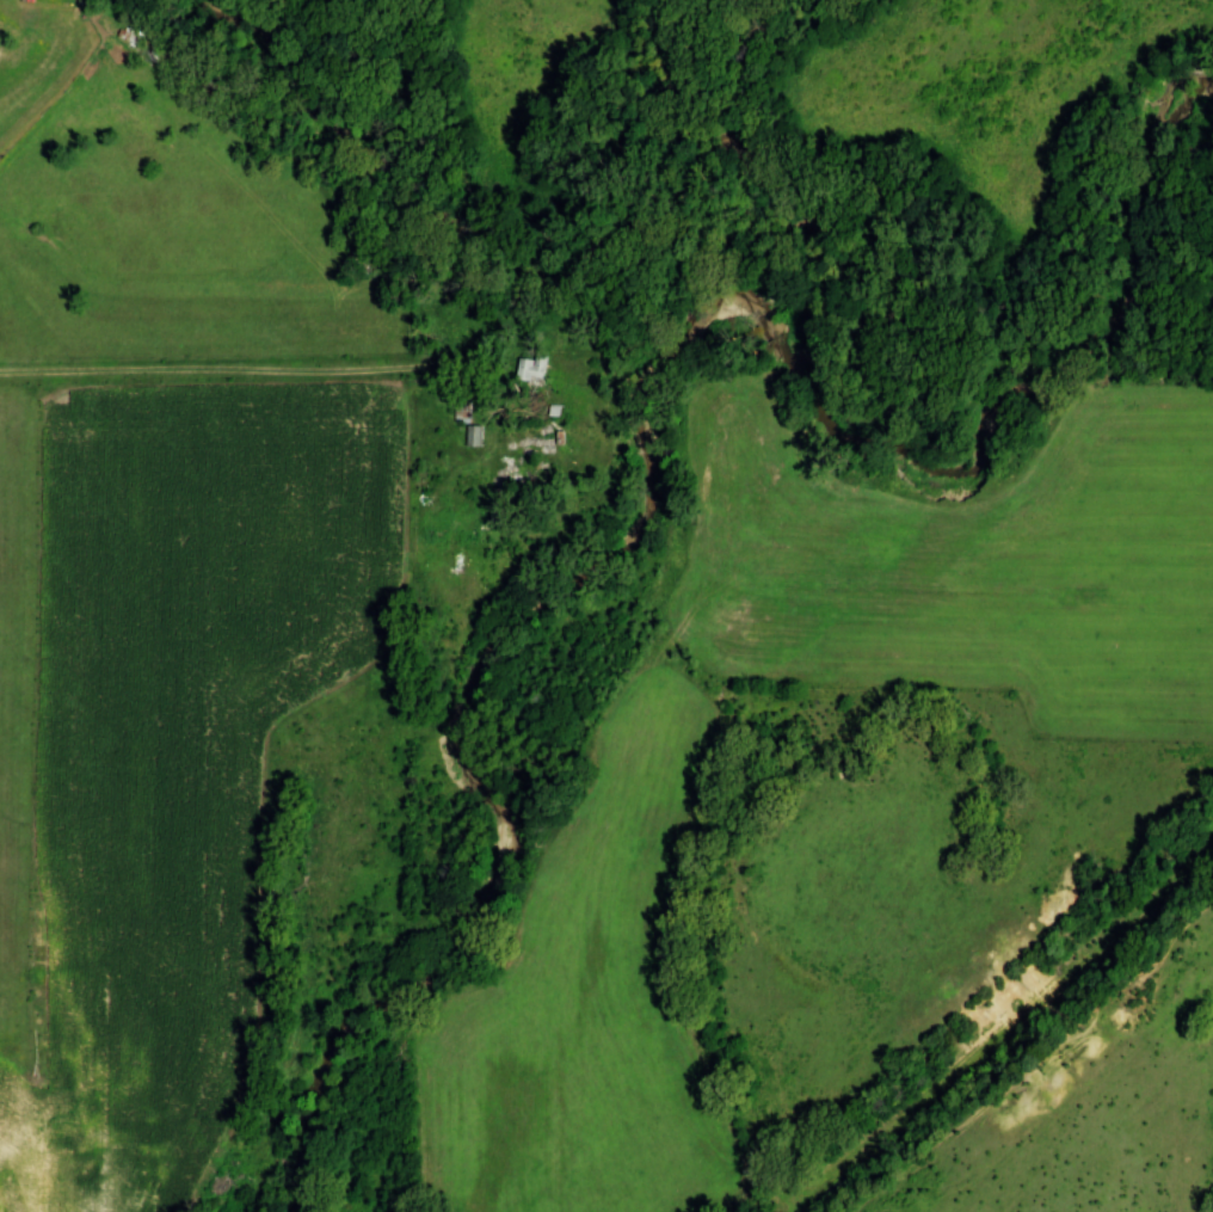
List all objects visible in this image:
building: (531, 370)
road: (207, 373)
building: (474, 436)
building: (16, 1195)

